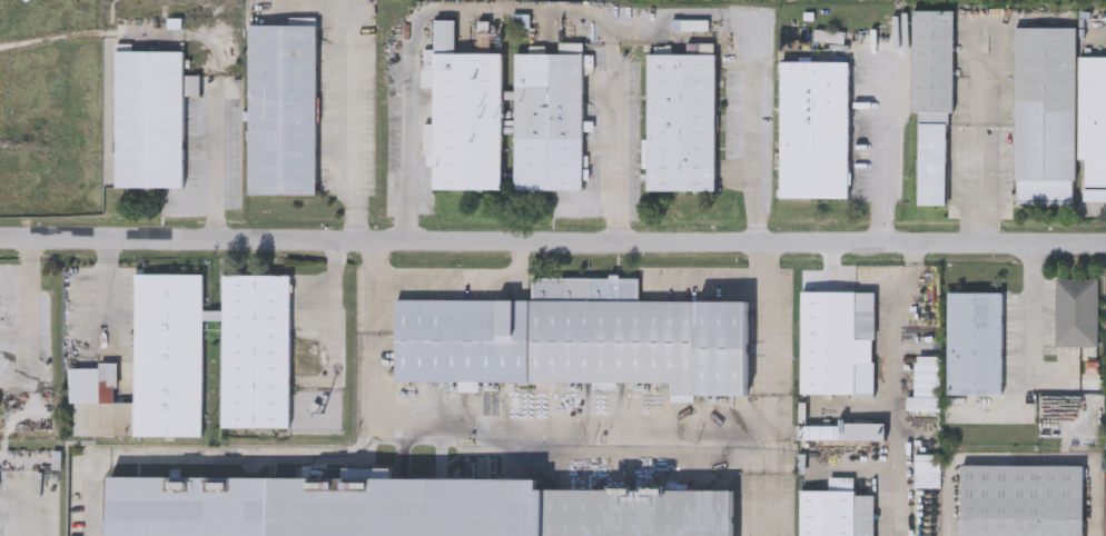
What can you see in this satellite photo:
road: (475, 8)
building: (934, 99)
building: (283, 108)
building: (1045, 113)
building: (150, 116)
building: (507, 117)
building: (1093, 117)
building: (681, 120)
road: (353, 123)
building: (814, 128)
road: (626, 130)
road: (753, 140)
road: (886, 158)
road: (976, 158)
road: (217, 162)
building: (1095, 192)
road: (552, 247)
road: (445, 274)
road: (707, 276)
road: (907, 288)
road: (374, 305)
building: (1076, 310)
road: (1030, 316)
road: (769, 324)
building: (576, 337)
building: (838, 341)
building: (975, 343)
building: (194, 358)
road: (899, 429)
road: (543, 430)
building: (843, 430)
road: (210, 457)
road: (768, 482)
building: (1021, 499)
road: (34, 507)
building: (405, 507)
building: (837, 509)

